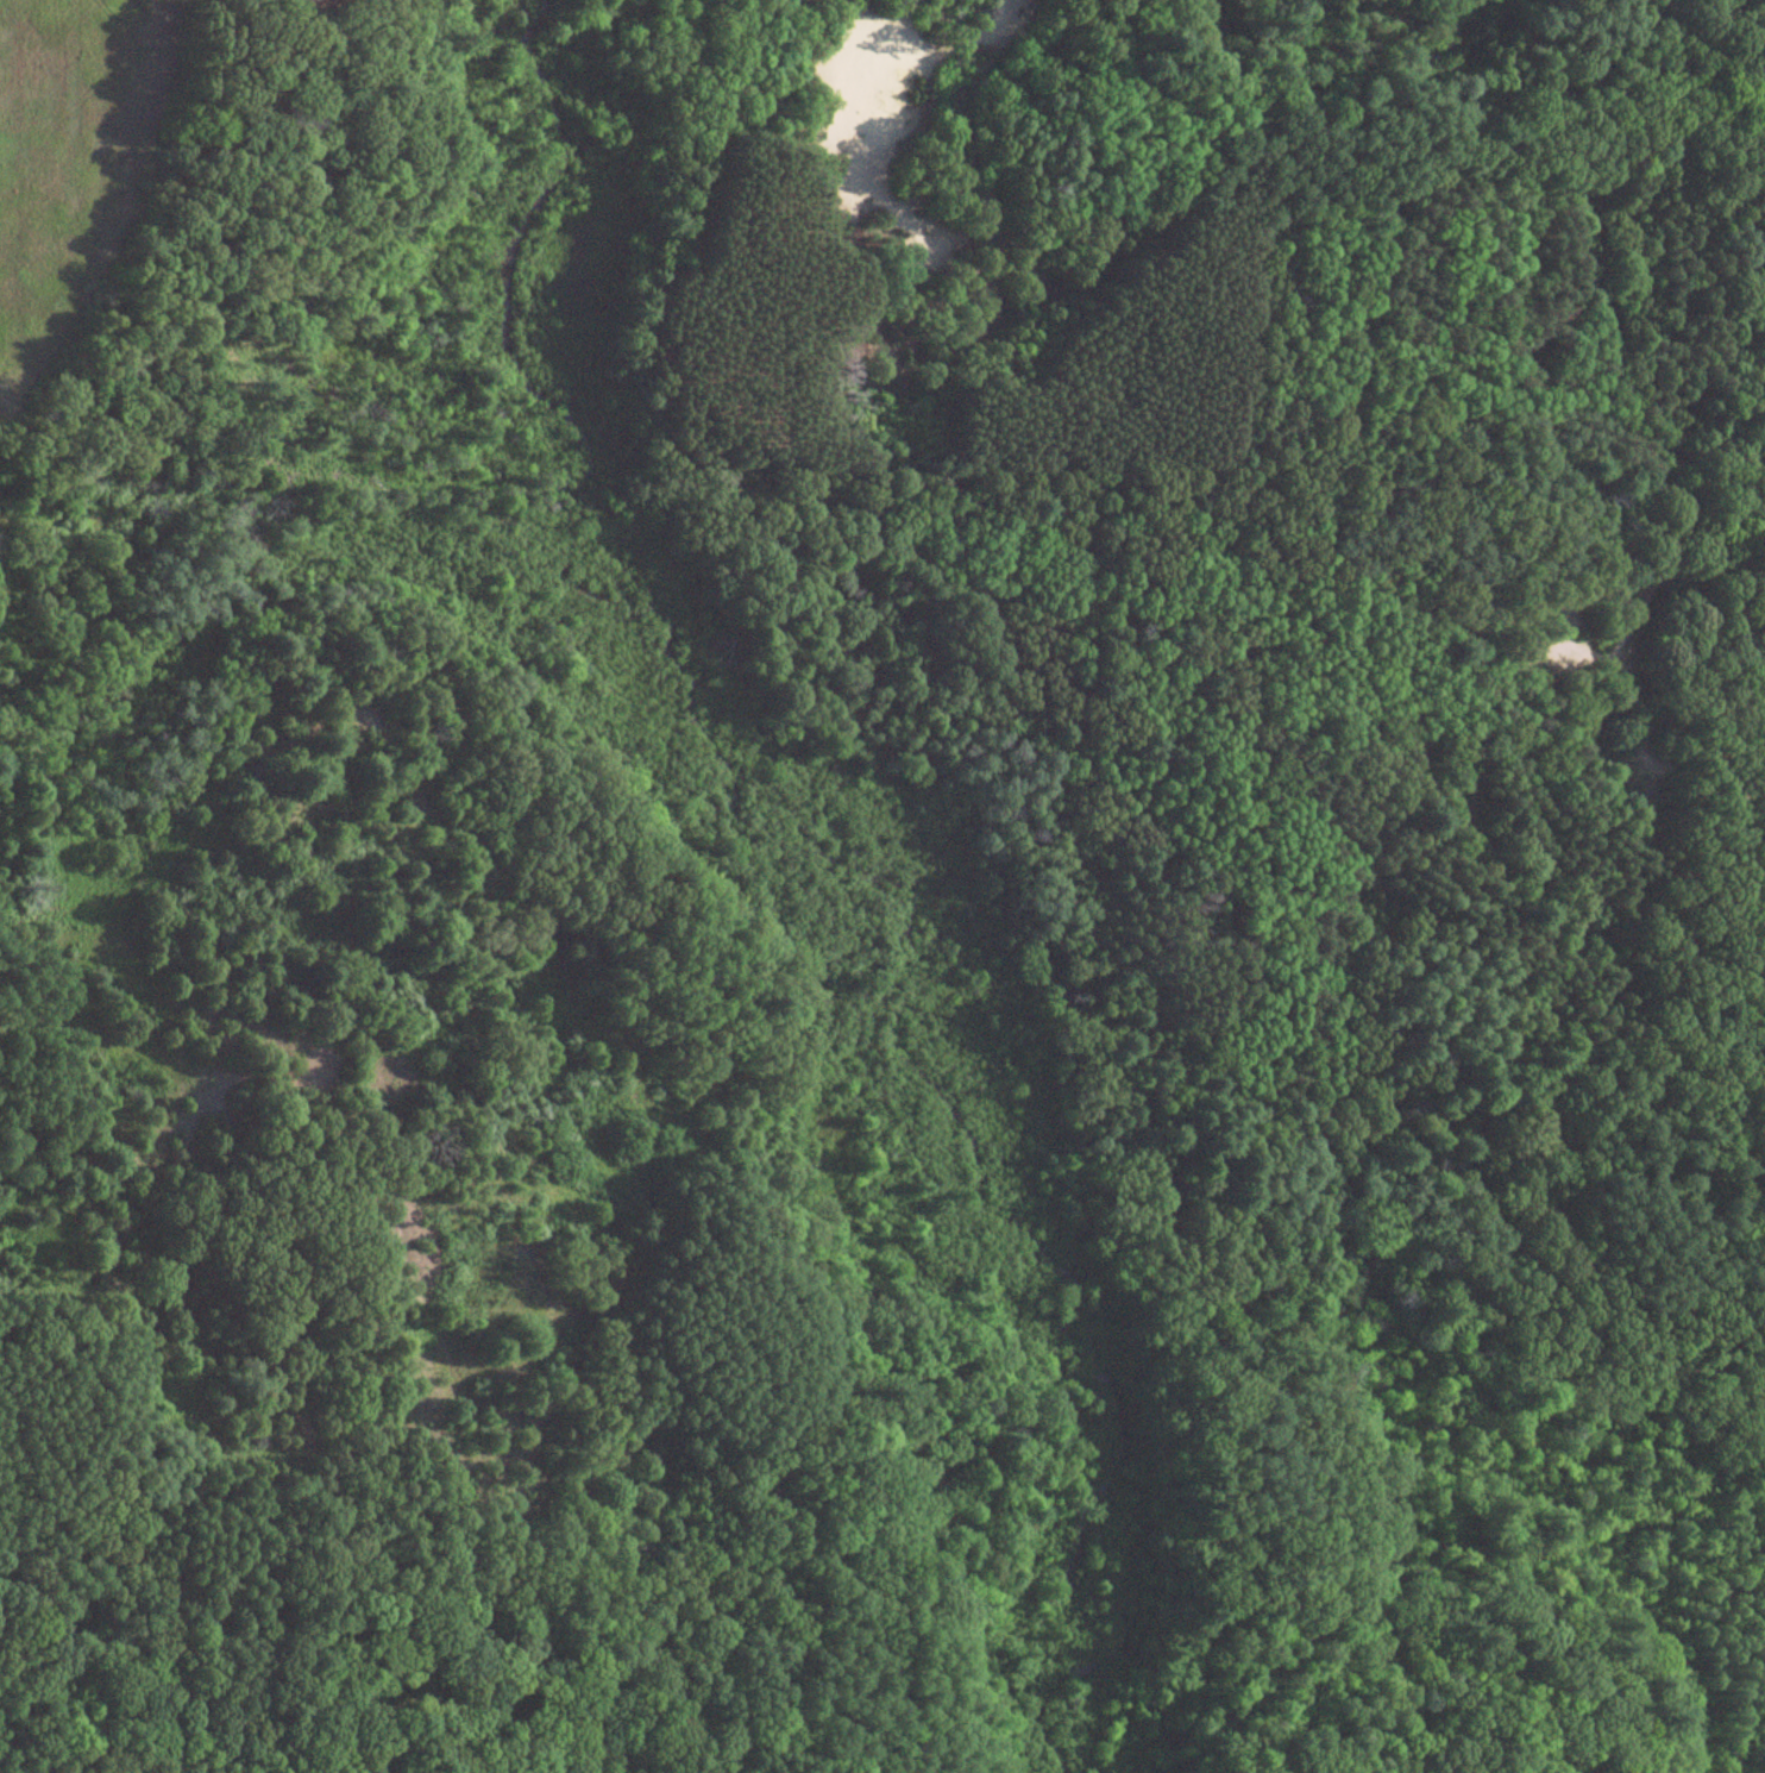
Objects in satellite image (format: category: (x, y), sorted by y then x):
road: (1687, 138)
road: (882, 490)

